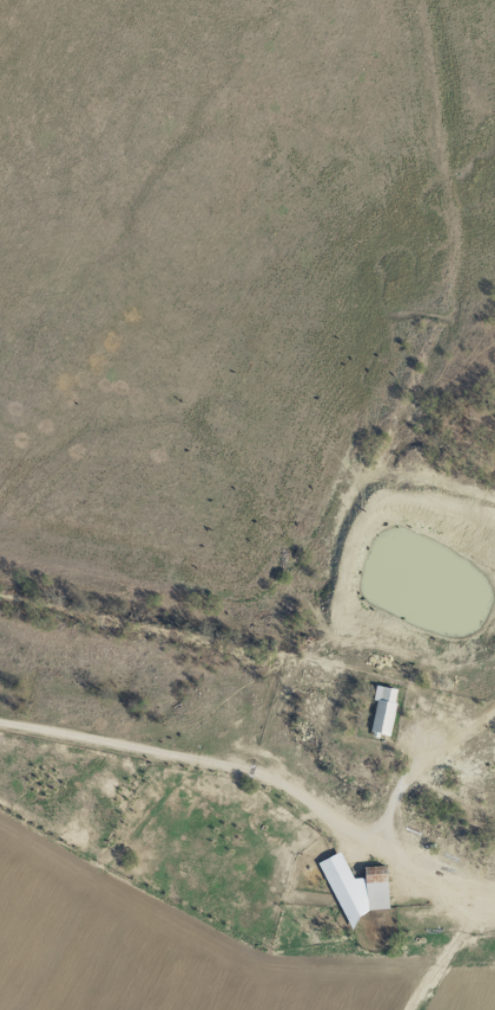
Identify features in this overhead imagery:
building: (383, 709)
building: (375, 886)

